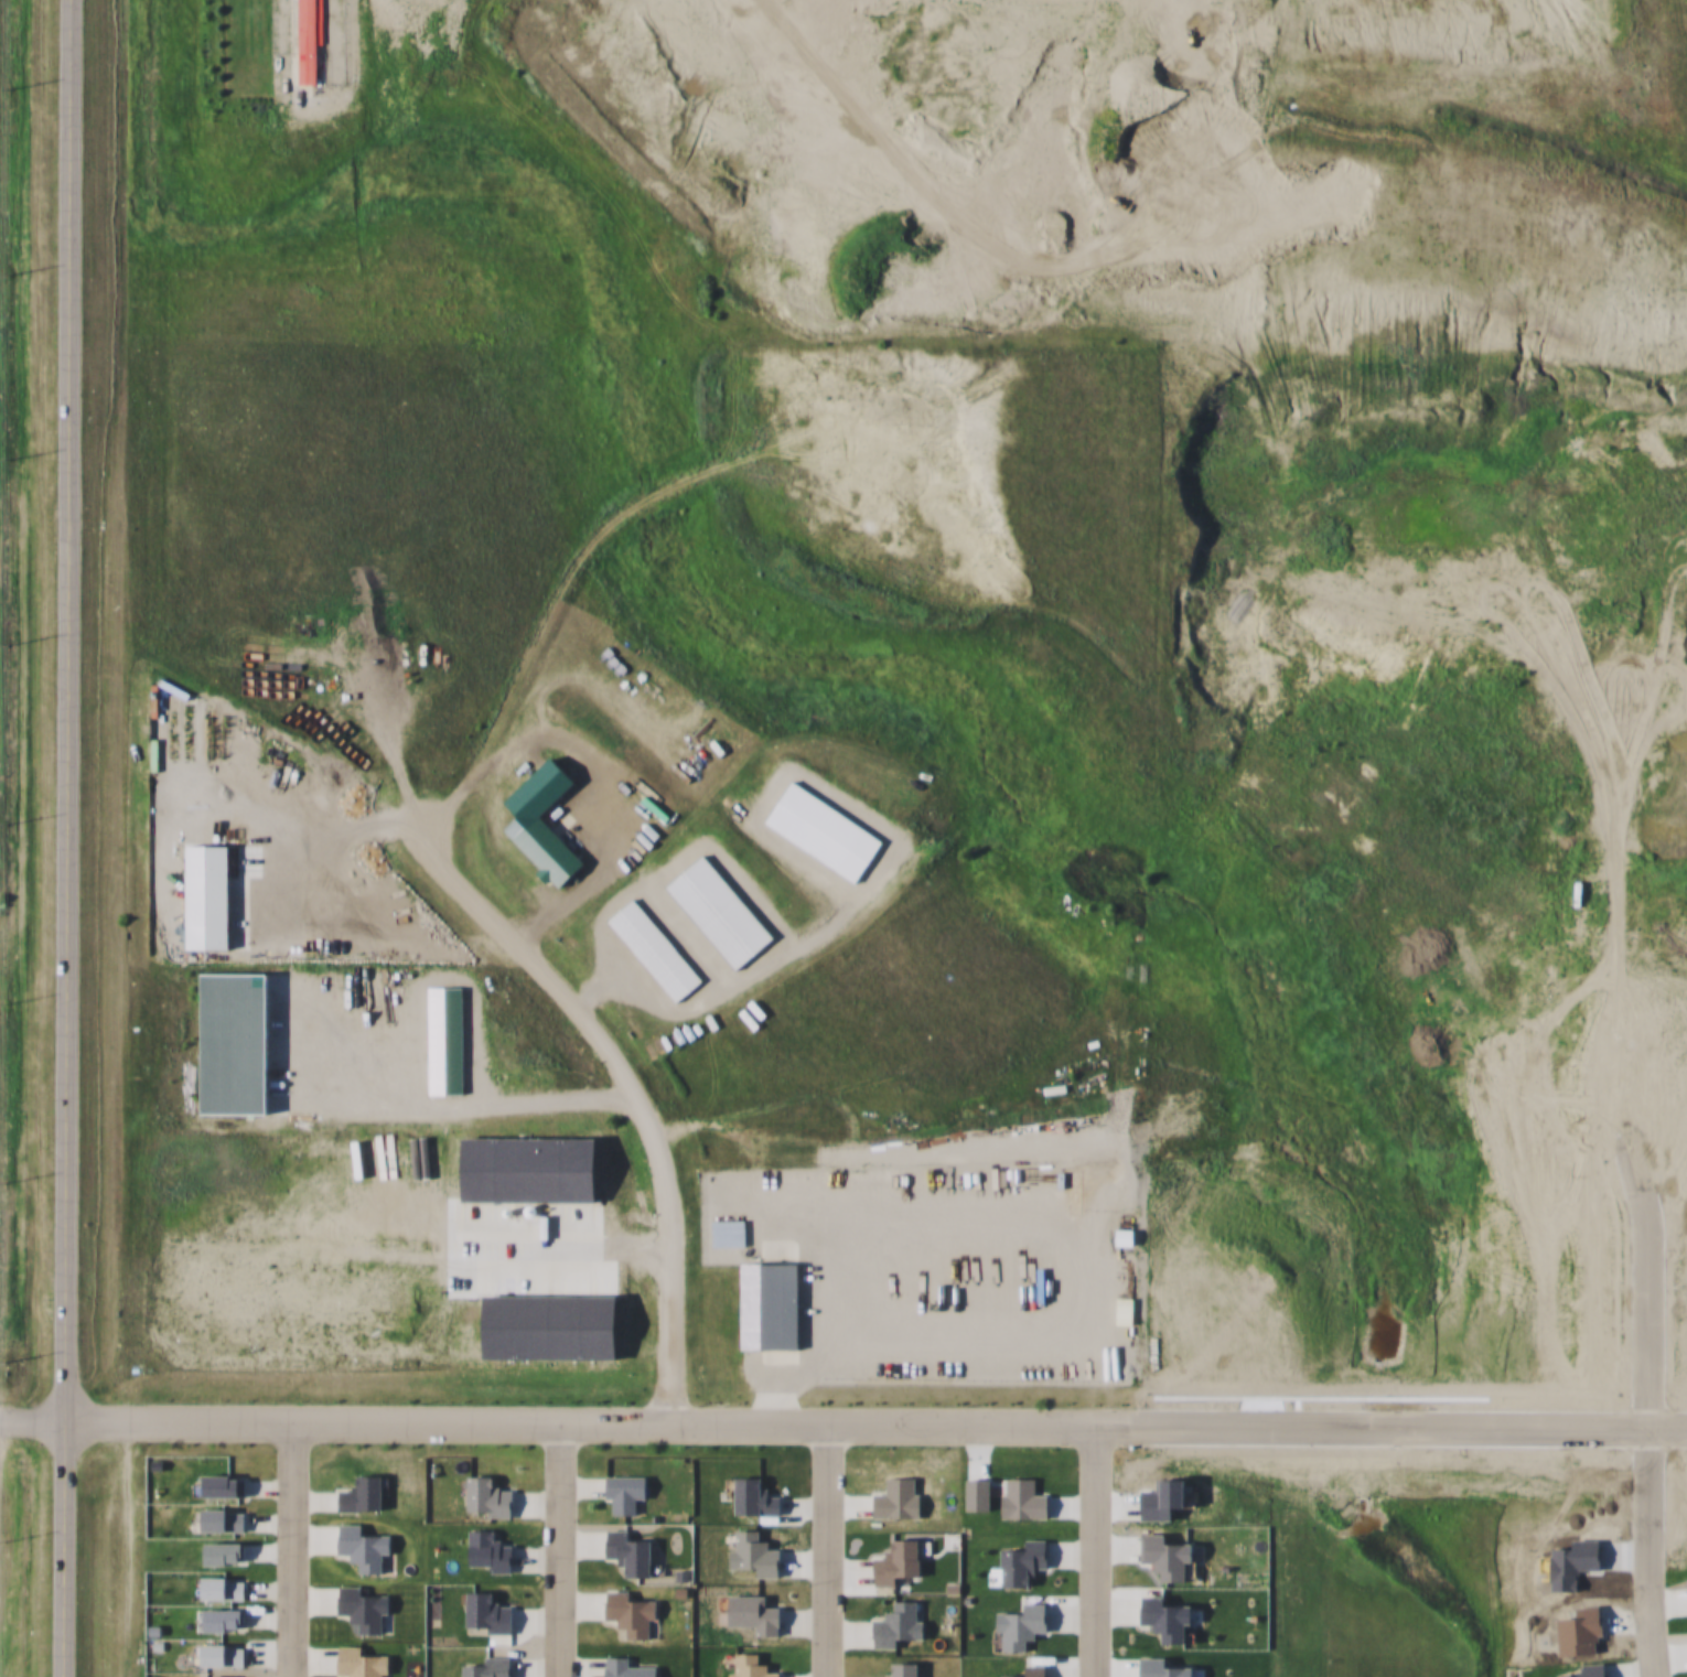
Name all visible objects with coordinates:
building: (310, 39)
road: (67, 709)
building: (551, 849)
building: (721, 911)
building: (656, 949)
building: (449, 1039)
road: (624, 1084)
building: (1125, 1228)
building: (774, 1305)
road: (1385, 1374)
road: (574, 1418)
road: (31, 1419)
road: (282, 1547)
road: (546, 1547)
road: (815, 1547)
road: (1087, 1547)
road: (62, 1548)
road: (1637, 1599)

